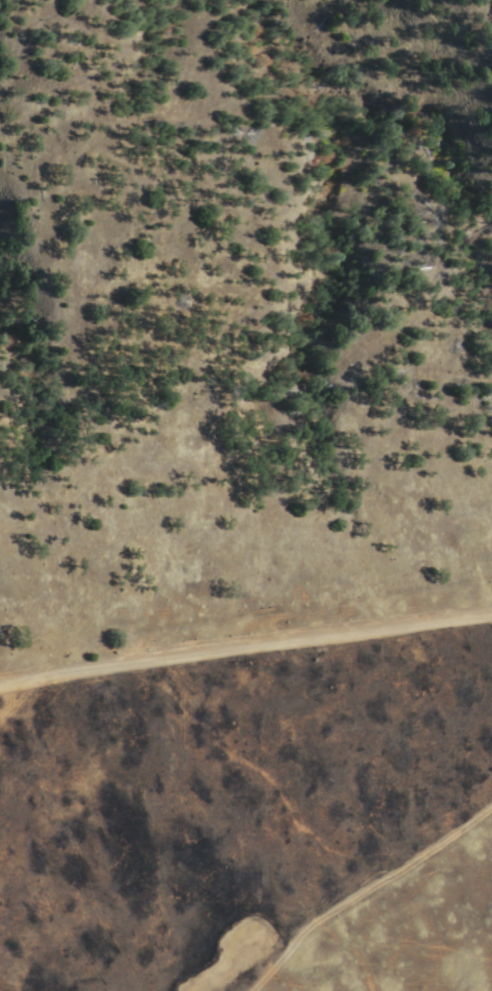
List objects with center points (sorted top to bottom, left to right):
road: (245, 649)
road: (364, 892)

